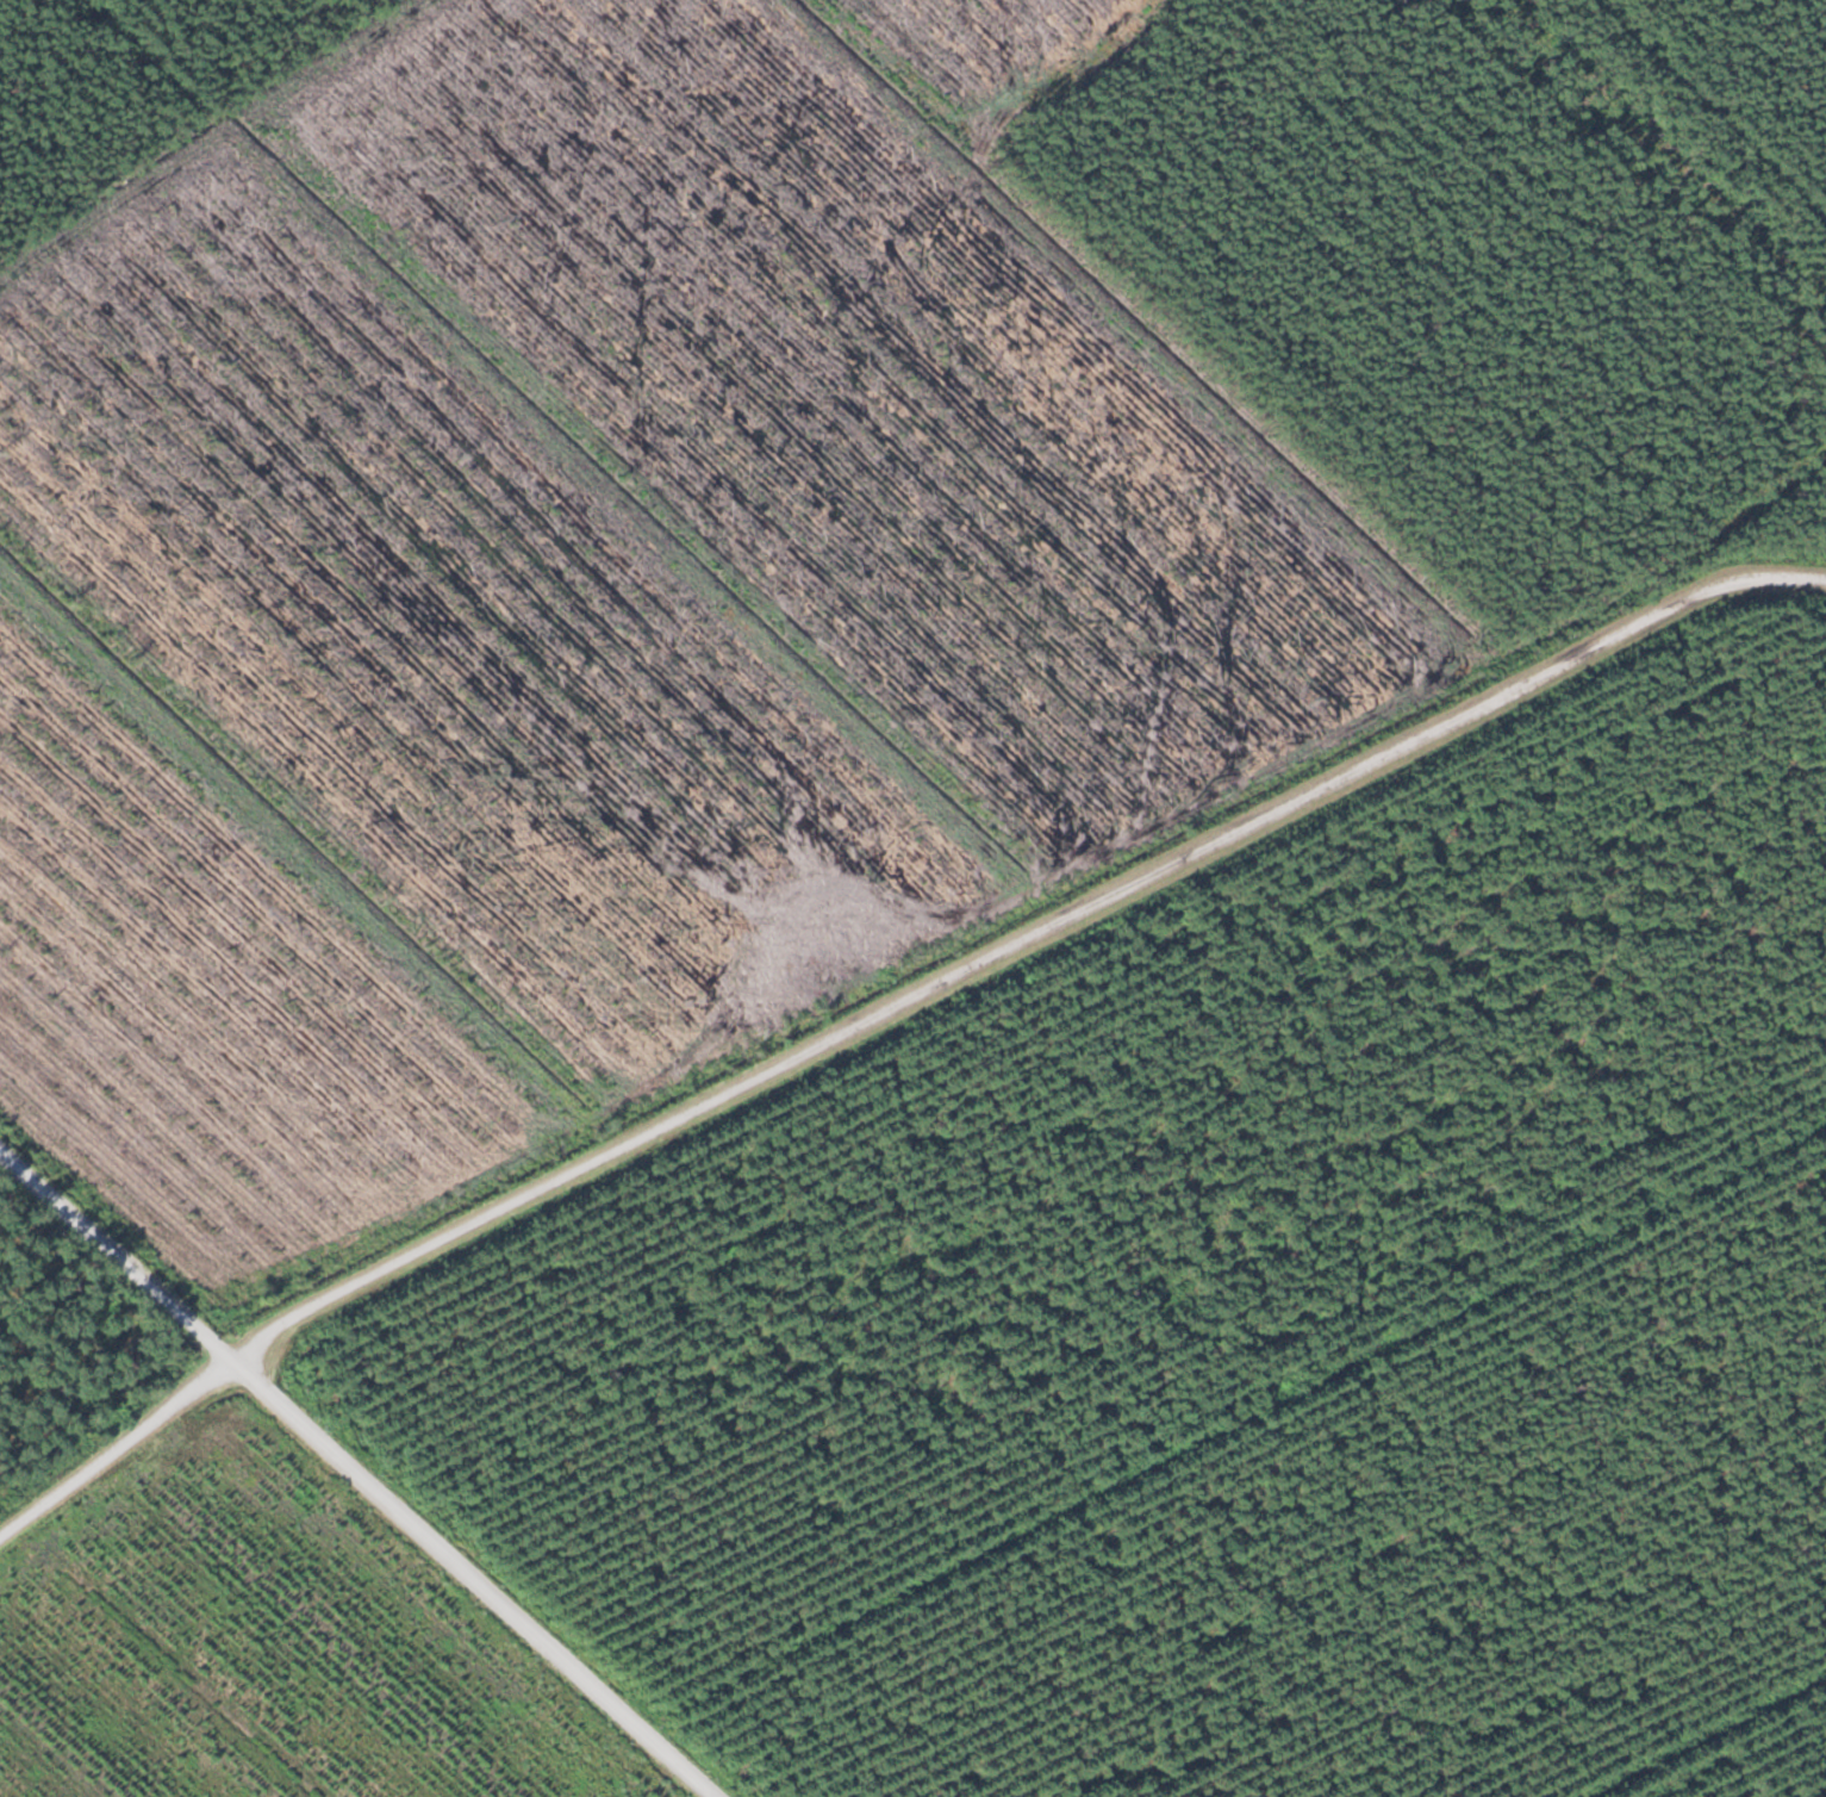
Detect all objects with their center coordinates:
road: (890, 1007)
road: (357, 1474)

